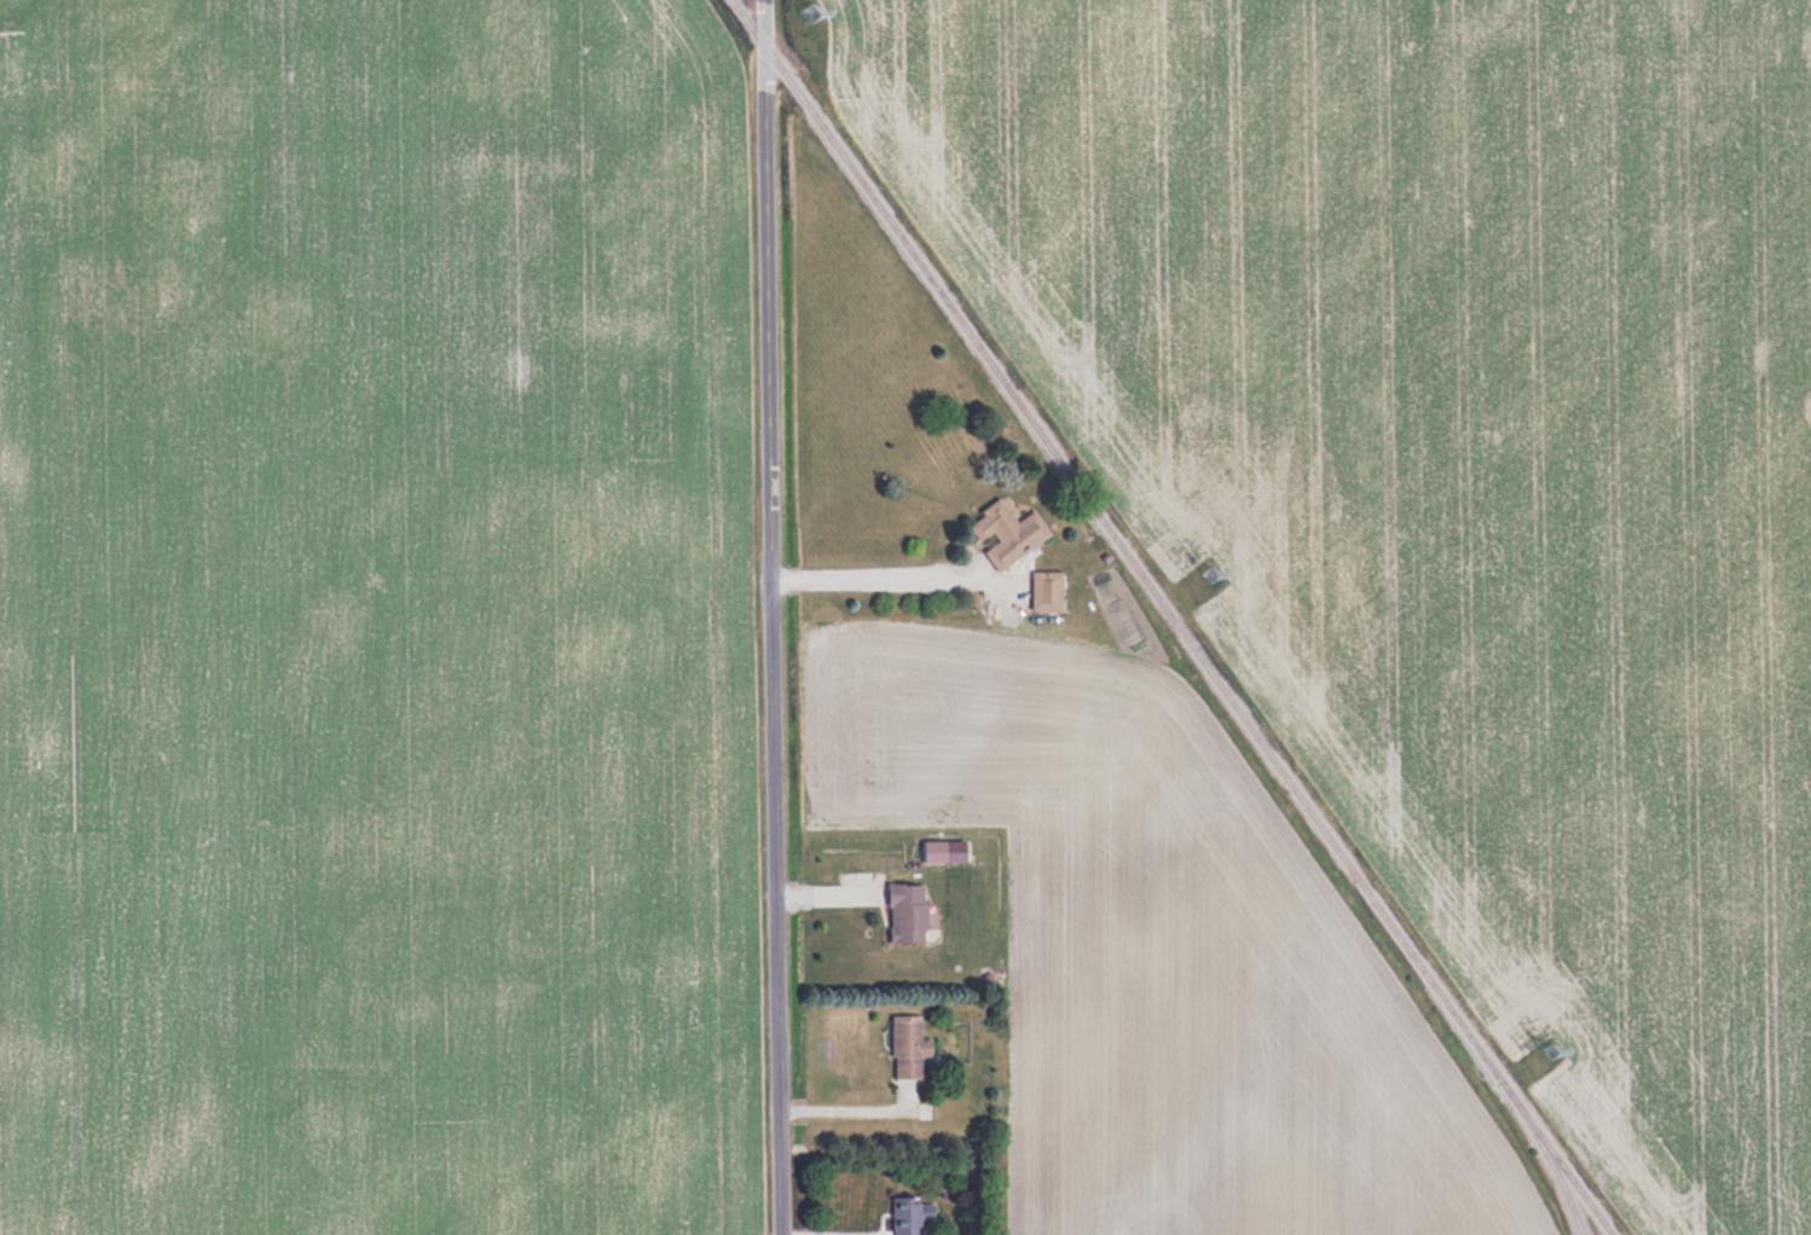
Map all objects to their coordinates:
building: (810, 11)
power tower: (812, 17)
building: (1007, 532)
railway: (1117, 540)
road: (889, 575)
power tower: (1213, 580)
building: (1047, 590)
road: (765, 617)
building: (933, 851)
building: (905, 912)
building: (907, 1046)
power tower: (1551, 1057)
road: (849, 1109)
railway: (1546, 1155)
railway: (1555, 1159)
building: (904, 1216)

